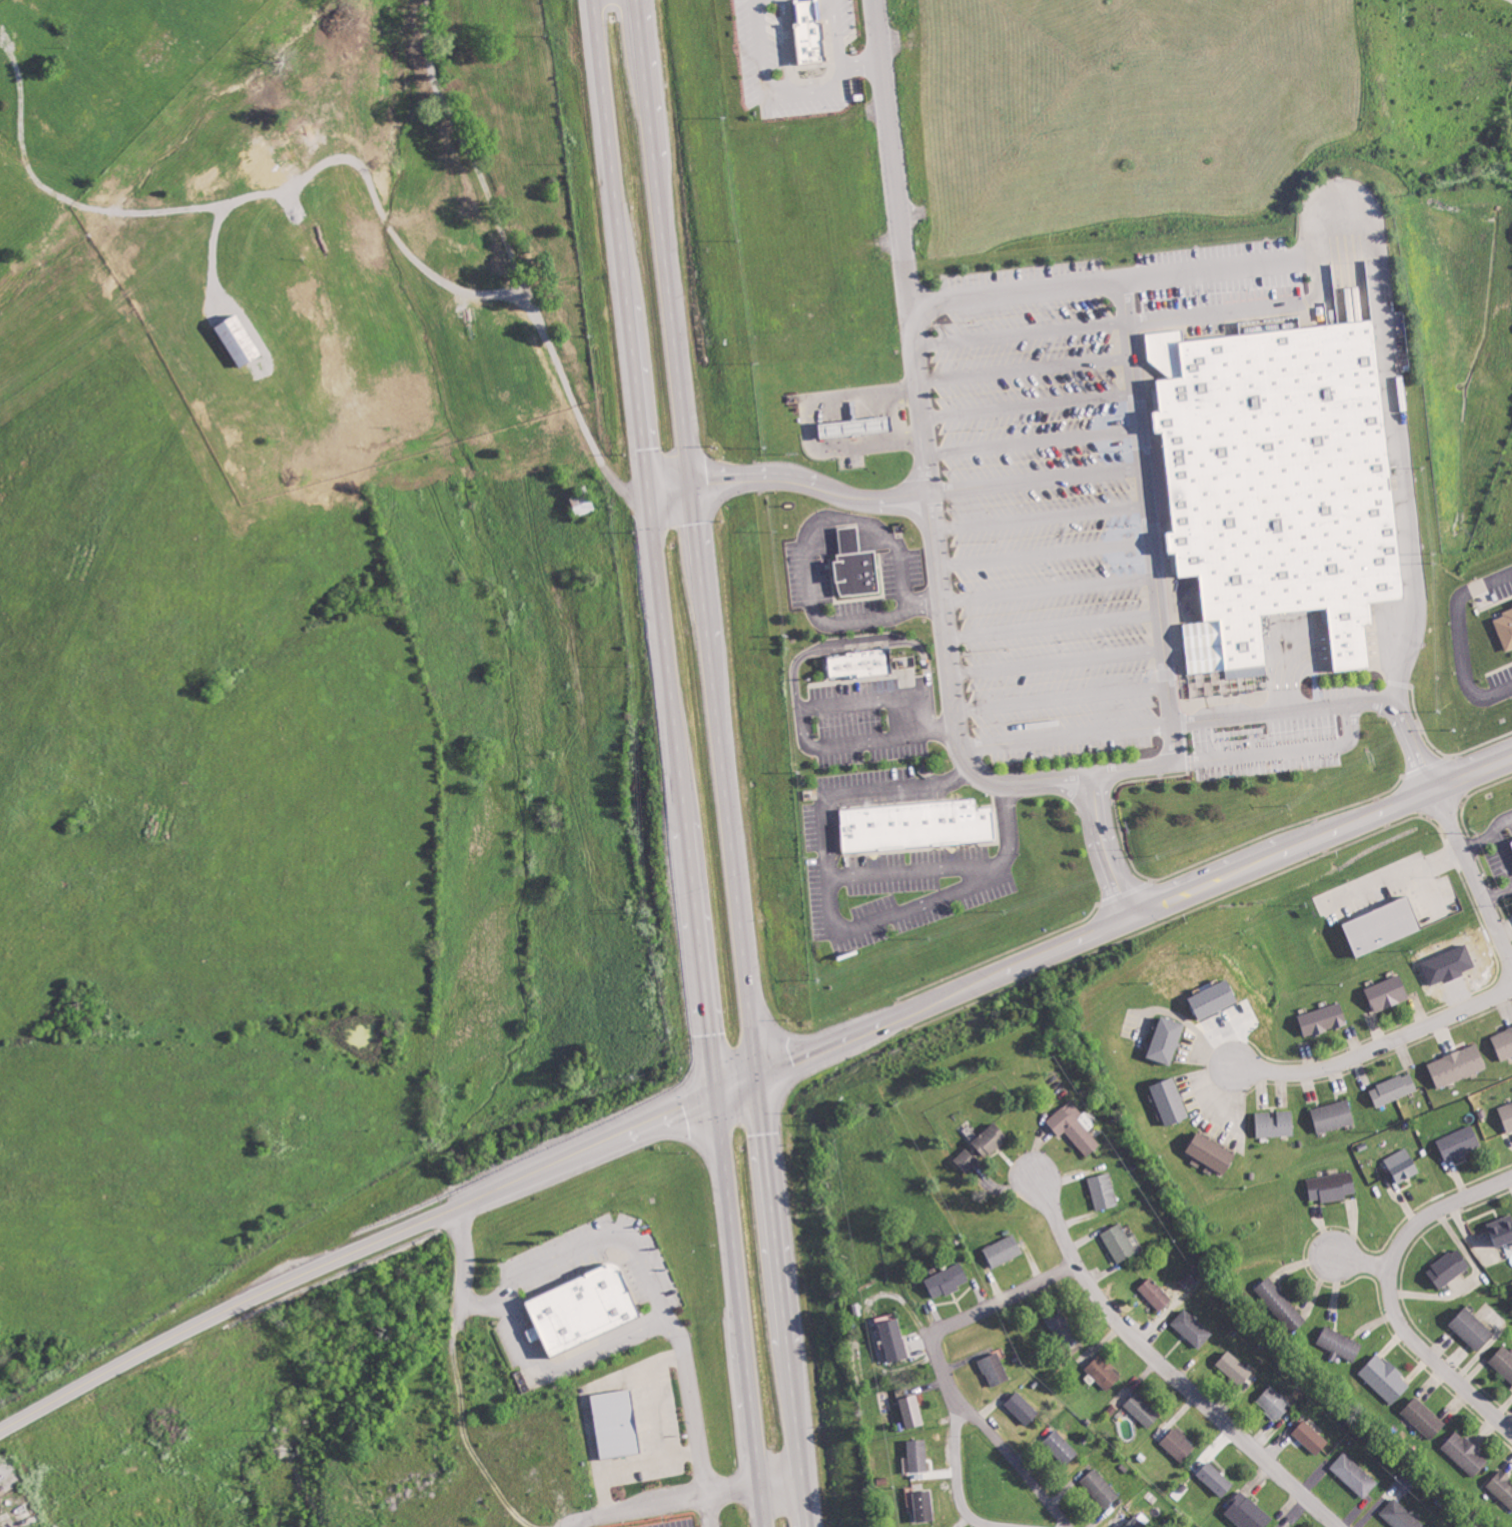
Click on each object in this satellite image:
building: (812, 32)
road: (861, 63)
road: (801, 92)
road: (1343, 197)
road: (1106, 278)
road: (1252, 304)
road: (1018, 331)
building: (239, 339)
road: (1022, 369)
road: (1026, 404)
building: (849, 424)
road: (1030, 440)
road: (788, 477)
road: (1034, 478)
building: (1276, 481)
traffic signals: (692, 482)
traffic signals: (647, 490)
road: (927, 490)
road: (1038, 515)
road: (1146, 519)
road: (1406, 527)
road: (698, 537)
road: (653, 547)
road: (1042, 551)
road: (806, 552)
building: (851, 564)
road: (1046, 587)
road: (1051, 624)
building: (1506, 628)
road: (1461, 636)
road: (854, 638)
road: (1055, 660)
building: (857, 661)
road: (1059, 697)
road: (1284, 708)
road: (802, 718)
road: (1064, 734)
road: (1281, 749)
building: (914, 823)
road: (1103, 846)
road: (910, 869)
road: (1473, 876)
road: (1134, 916)
road: (835, 917)
building: (1382, 926)
building: (1388, 993)
building: (1324, 1019)
building: (1167, 1039)
building: (1504, 1043)
road: (1380, 1045)
building: (1458, 1065)
road: (736, 1085)
building: (1394, 1089)
building: (1171, 1101)
building: (1334, 1115)
building: (1507, 1115)
building: (1276, 1123)
building: (1075, 1126)
building: (991, 1139)
building: (1460, 1143)
building: (1213, 1154)
building: (966, 1159)
building: (1403, 1165)
building: (1332, 1186)
building: (1103, 1191)
building: (1502, 1230)
building: (1120, 1243)
building: (1004, 1250)
road: (352, 1251)
road: (551, 1257)
road: (1355, 1258)
building: (1449, 1267)
road: (1050, 1275)
building: (948, 1280)
building: (1156, 1293)
road: (1390, 1293)
road: (783, 1301)
building: (1281, 1304)
building: (584, 1309)
road: (739, 1311)
road: (949, 1324)
building: (1061, 1326)
building: (1192, 1328)
building: (1472, 1329)
building: (894, 1340)
building: (1340, 1343)
road: (671, 1360)
building: (1503, 1362)
road: (574, 1365)
road: (1166, 1365)
building: (1235, 1367)
building: (995, 1369)
building: (1103, 1372)
building: (1385, 1378)
road: (587, 1400)
building: (1275, 1403)
building: (1022, 1408)
building: (1143, 1410)
building: (912, 1411)
building: (1424, 1418)
building: (617, 1424)
building: (1311, 1437)
building: (1178, 1444)
building: (1061, 1447)
building: (1466, 1453)
building: (918, 1455)
road: (1013, 1459)
road: (649, 1460)
road: (957, 1474)
building: (1354, 1475)
building: (1215, 1479)
building: (1502, 1487)
road: (758, 1488)
building: (1100, 1488)
road: (642, 1504)
building: (923, 1506)
road: (712, 1509)
building: (1247, 1512)
building: (1400, 1515)
building: (1139, 1521)

